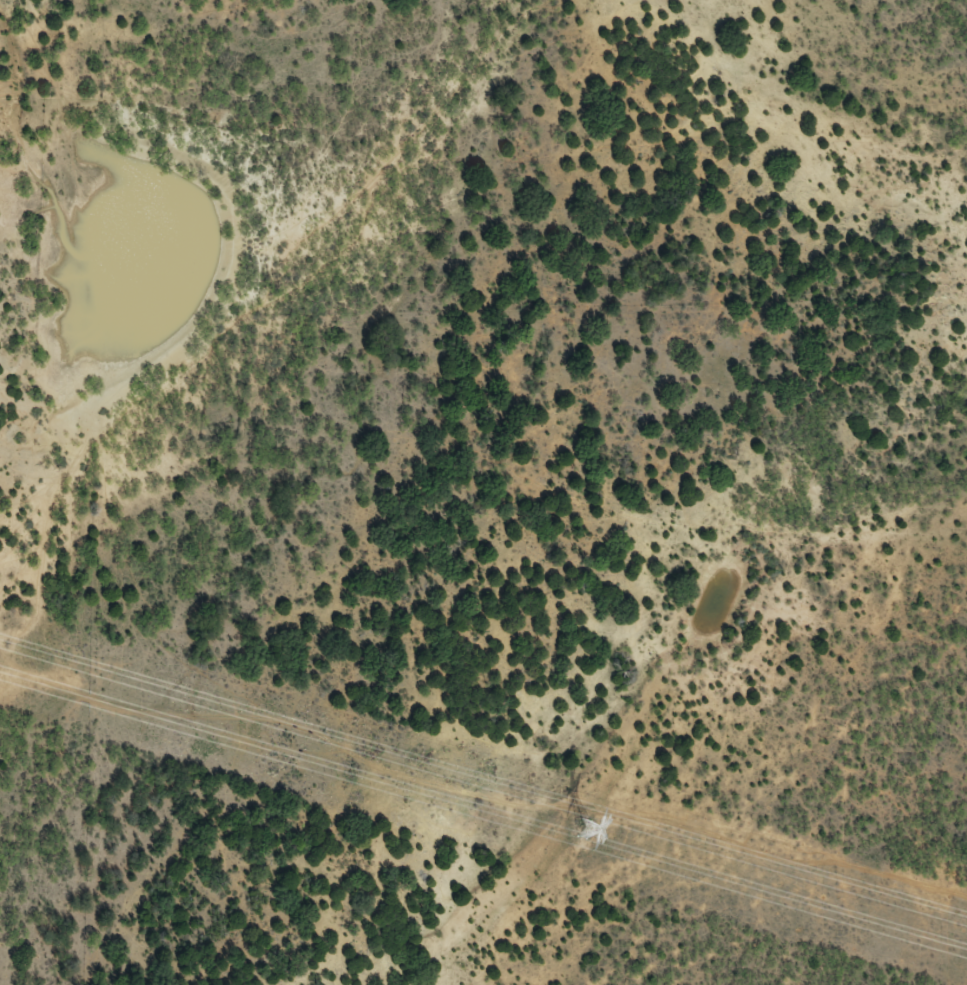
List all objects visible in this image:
power tower: (582, 828)

